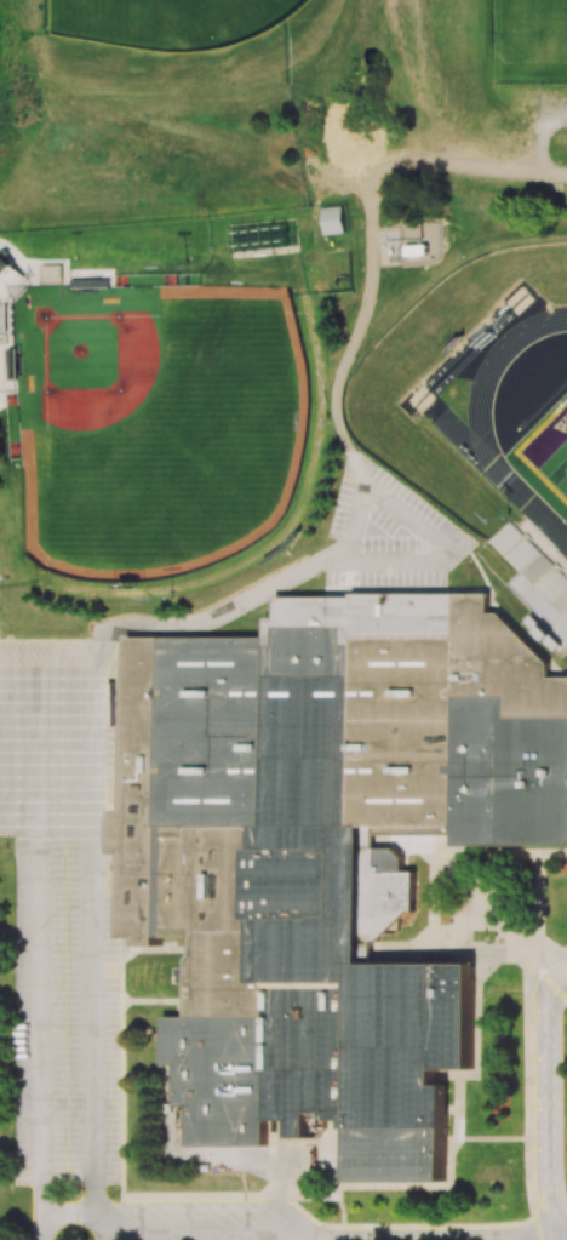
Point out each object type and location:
park: (164, 22)
park: (529, 41)
building: (336, 221)
road: (371, 238)
building: (10, 279)
building: (2, 322)
road: (464, 344)
road: (470, 353)
park: (164, 424)
track: (468, 438)
park: (550, 451)
parking lot: (385, 531)
road: (543, 547)
road: (543, 548)
road: (93, 647)
building: (121, 830)
building: (330, 850)
road: (477, 899)
parking lot: (63, 903)
road: (482, 931)
road: (42, 1041)
road: (528, 1076)
road: (539, 1093)
road: (74, 1212)
road: (337, 1239)
road: (539, 1239)

